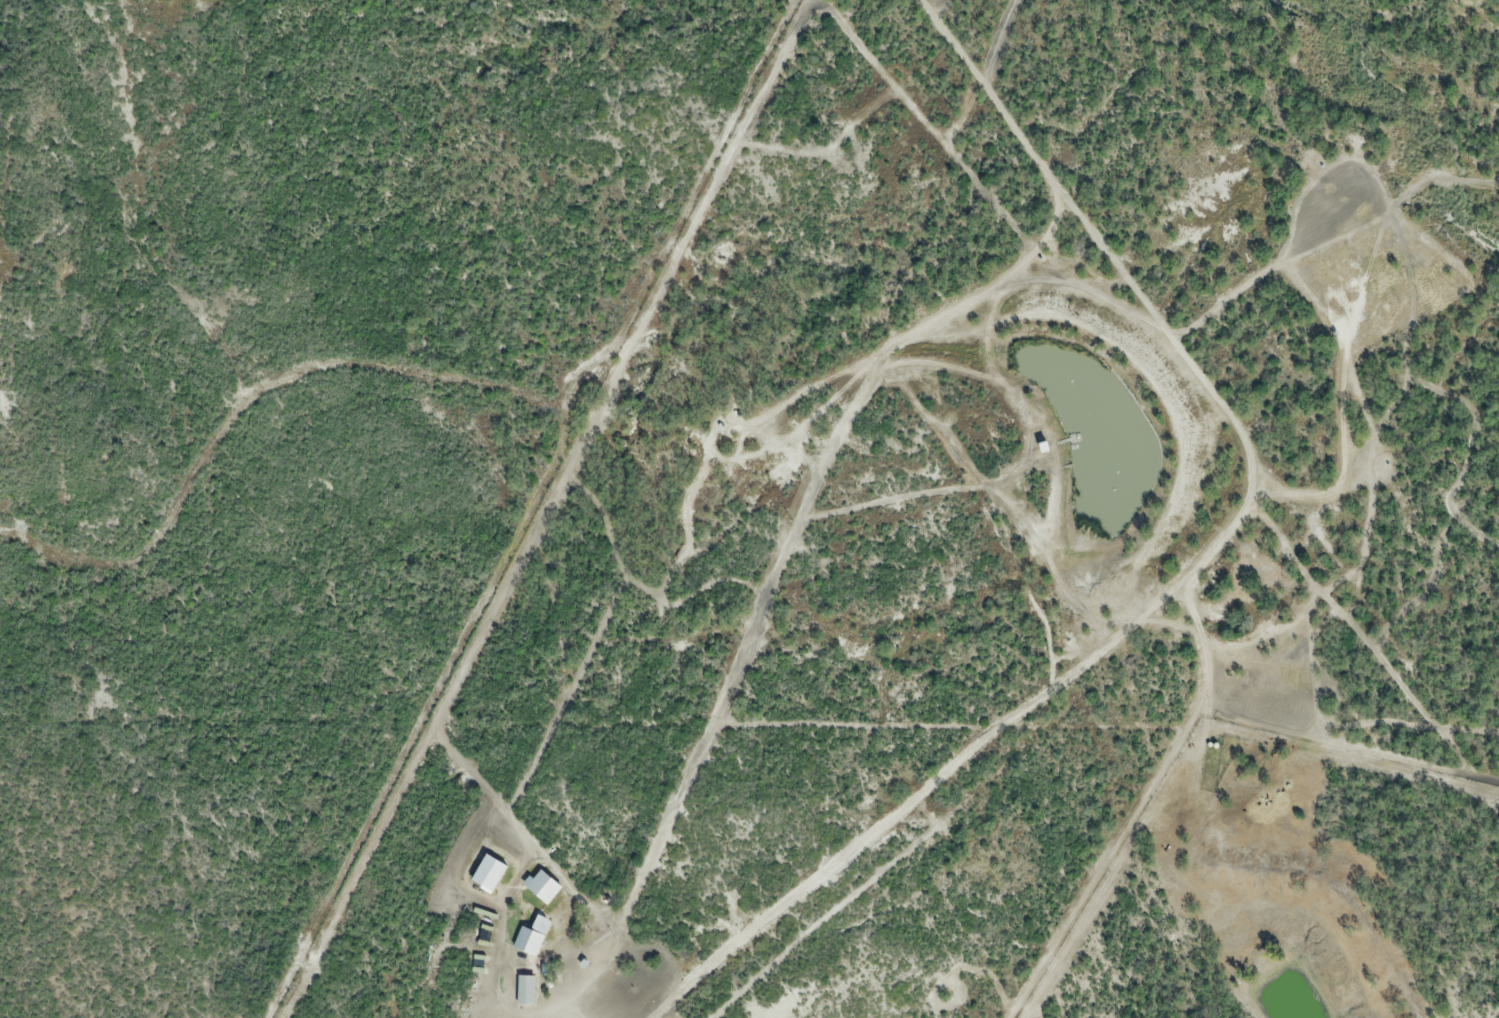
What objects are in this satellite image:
building: (488, 872)
building: (543, 885)
building: (531, 936)
building: (525, 990)

